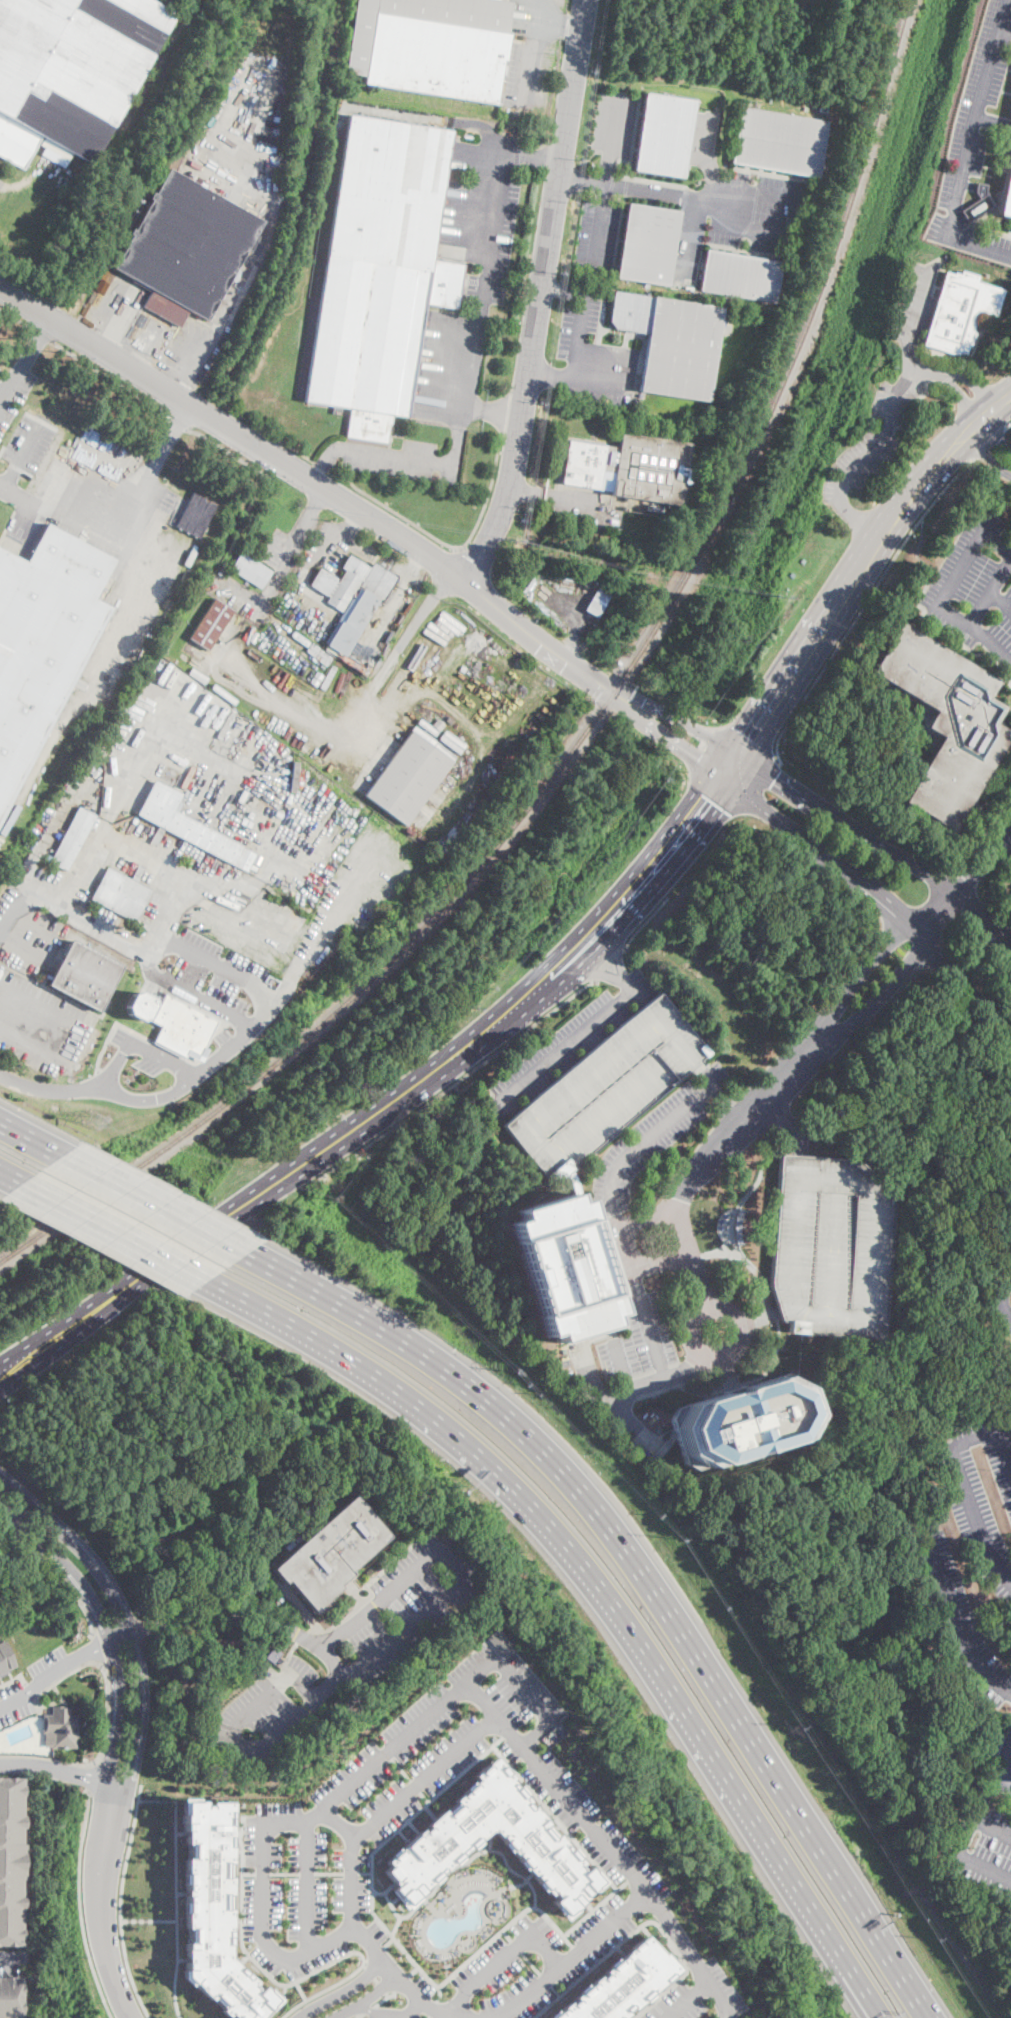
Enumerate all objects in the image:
road: (1009, 3)
railway: (330, 10)
road: (540, 21)
road: (562, 23)
railway: (347, 35)
building: (431, 46)
building: (71, 69)
road: (531, 73)
railway: (158, 75)
parking lot: (525, 75)
railway: (145, 78)
building: (823, 108)
parking lot: (615, 123)
building: (665, 133)
parking lot: (973, 136)
building: (779, 142)
road: (968, 144)
road: (528, 154)
road: (707, 158)
parking lot: (243, 166)
road: (603, 181)
parking lot: (1, 183)
building: (982, 188)
road: (636, 189)
road: (754, 191)
building: (1006, 195)
railway: (327, 200)
railway: (299, 201)
road: (486, 205)
parking lot: (482, 211)
parking lot: (763, 211)
road: (744, 228)
road: (262, 233)
road: (688, 235)
parking lot: (597, 236)
building: (647, 244)
building: (187, 248)
building: (381, 273)
building: (740, 276)
road: (15, 278)
building: (687, 288)
road: (540, 295)
road: (116, 305)
building: (960, 311)
parking lot: (125, 315)
road: (580, 315)
road: (16, 320)
road: (98, 334)
road: (42, 337)
road: (130, 340)
building: (672, 342)
road: (185, 348)
road: (125, 350)
parking lot: (191, 352)
road: (29, 355)
parking lot: (594, 359)
road: (925, 369)
road: (549, 376)
road: (168, 380)
road: (972, 380)
road: (111, 381)
road: (595, 381)
road: (897, 386)
road: (4, 389)
road: (463, 389)
parking lot: (13, 392)
parking lot: (887, 393)
road: (961, 396)
road: (4, 398)
road: (491, 412)
road: (178, 423)
road: (1008, 424)
road: (257, 426)
road: (171, 429)
road: (998, 433)
road: (991, 442)
parking lot: (28, 443)
road: (230, 452)
road: (24, 456)
road: (985, 456)
road: (396, 458)
parking lot: (404, 458)
road: (323, 462)
road: (321, 466)
building: (629, 468)
road: (145, 480)
road: (312, 481)
road: (527, 492)
railway: (163, 496)
road: (567, 498)
road: (69, 500)
parking lot: (571, 505)
building: (655, 508)
building: (602, 510)
building: (197, 512)
road: (352, 517)
road: (861, 522)
building: (609, 524)
road: (319, 525)
road: (998, 540)
parking lot: (107, 542)
road: (445, 543)
building: (802, 561)
road: (925, 562)
road: (960, 567)
building: (251, 569)
road: (312, 570)
parking lot: (304, 575)
building: (792, 575)
parking lot: (221, 578)
building: (353, 582)
parking lot: (975, 588)
road: (990, 590)
road: (399, 594)
road: (1000, 600)
road: (263, 605)
road: (863, 605)
building: (361, 610)
road: (576, 617)
building: (211, 625)
road: (976, 631)
building: (254, 636)
road: (404, 639)
building: (43, 642)
road: (221, 649)
building: (320, 653)
road: (441, 674)
building: (198, 675)
building: (328, 677)
building: (317, 678)
building: (224, 692)
road: (389, 696)
road: (678, 720)
building: (946, 721)
road: (509, 723)
building: (439, 725)
railway: (588, 728)
road: (357, 737)
road: (666, 737)
traffic signals: (753, 739)
road: (746, 742)
road: (700, 748)
traffic signals: (697, 760)
building: (408, 778)
traffic signals: (775, 778)
road: (756, 786)
road: (713, 794)
traffic signals: (708, 798)
road: (209, 808)
building: (185, 823)
road: (103, 826)
road: (337, 828)
road: (291, 835)
building: (73, 838)
road: (879, 842)
parking lot: (326, 843)
parking lot: (998, 844)
road: (998, 847)
road: (1005, 850)
building: (148, 853)
building: (245, 859)
road: (971, 876)
road: (882, 893)
building: (121, 894)
road: (240, 901)
road: (939, 910)
road: (168, 911)
road: (644, 922)
road: (6, 933)
road: (25, 943)
parking lot: (33, 943)
road: (618, 944)
road: (572, 953)
road: (618, 953)
road: (607, 962)
road: (865, 968)
road: (588, 974)
road: (597, 974)
building: (85, 975)
road: (234, 975)
road: (888, 989)
road: (184, 991)
road: (636, 993)
building: (141, 1005)
parking lot: (41, 1026)
building: (182, 1026)
road: (73, 1029)
parking lot: (571, 1042)
road: (572, 1044)
parking lot: (144, 1051)
road: (157, 1054)
road: (113, 1068)
road: (457, 1079)
road: (710, 1080)
road: (473, 1081)
road: (18, 1082)
building: (608, 1089)
parking lot: (608, 1089)
road: (69, 1091)
road: (149, 1096)
building: (810, 1102)
road: (731, 1107)
road: (549, 1113)
road: (794, 1117)
parking lot: (655, 1136)
road: (31, 1139)
road: (710, 1148)
road: (13, 1175)
road: (155, 1205)
road: (614, 1211)
road: (648, 1217)
road: (121, 1231)
railway: (22, 1244)
building: (831, 1245)
parking lot: (831, 1245)
road: (831, 1254)
road: (661, 1263)
building: (564, 1267)
parking lot: (1002, 1296)
road: (1003, 1298)
road: (704, 1303)
road: (862, 1314)
road: (760, 1318)
parking lot: (641, 1336)
road: (622, 1366)
road: (663, 1376)
road: (608, 1400)
building: (743, 1421)
road: (960, 1476)
parking lot: (980, 1485)
road: (21, 1509)
building: (330, 1554)
road: (55, 1571)
road: (647, 1579)
road: (606, 1593)
road: (380, 1599)
road: (117, 1601)
road: (229, 1611)
road: (99, 1617)
parking lot: (962, 1620)
road: (958, 1623)
road: (304, 1636)
building: (500, 1642)
road: (97, 1647)
parking lot: (347, 1650)
building: (272, 1653)
building: (4, 1656)
road: (333, 1661)
road: (62, 1664)
road: (14, 1676)
parking lot: (30, 1684)
road: (304, 1685)
road: (527, 1687)
road: (330, 1688)
road: (107, 1695)
road: (60, 1701)
building: (59, 1729)
road: (412, 1731)
road: (1003, 1767)
road: (58, 1769)
road: (400, 1769)
road: (112, 1775)
road: (91, 1777)
road: (123, 1778)
building: (964, 1778)
road: (415, 1785)
road: (560, 1787)
road: (424, 1796)
parking lot: (393, 1805)
road: (975, 1811)
road: (556, 1816)
road: (991, 1828)
parking lot: (985, 1845)
road: (376, 1847)
building: (431, 1848)
building: (12, 1860)
road: (984, 1866)
road: (350, 1872)
road: (364, 1872)
road: (247, 1873)
road: (261, 1873)
road: (283, 1873)
road: (306, 1873)
road: (328, 1873)
road: (261, 1882)
road: (305, 1888)
parking lot: (301, 1890)
road: (174, 1891)
road: (119, 1902)
road: (96, 1903)
road: (77, 1904)
road: (596, 1907)
building: (214, 1913)
road: (241, 1914)
road: (147, 1920)
road: (643, 1923)
road: (501, 1931)
road: (680, 1937)
road: (389, 1941)
road: (354, 1951)
road: (374, 1953)
road: (506, 1957)
parking lot: (13, 1958)
parking lot: (572, 1958)
road: (10, 1959)
road: (369, 1970)
road: (413, 1970)
road: (377, 1979)
road: (400, 1982)
building: (618, 1982)
parking lot: (422, 1986)
road: (383, 1988)
road: (342, 1993)
building: (10, 1996)
parking lot: (699, 1996)
road: (365, 1997)
road: (383, 1997)
road: (718, 2000)
road: (689, 2001)
road: (292, 2007)
road: (433, 2008)
road: (367, 2009)
road: (391, 2013)
parking lot: (393, 2013)
road: (357, 2016)
road: (429, 2016)

